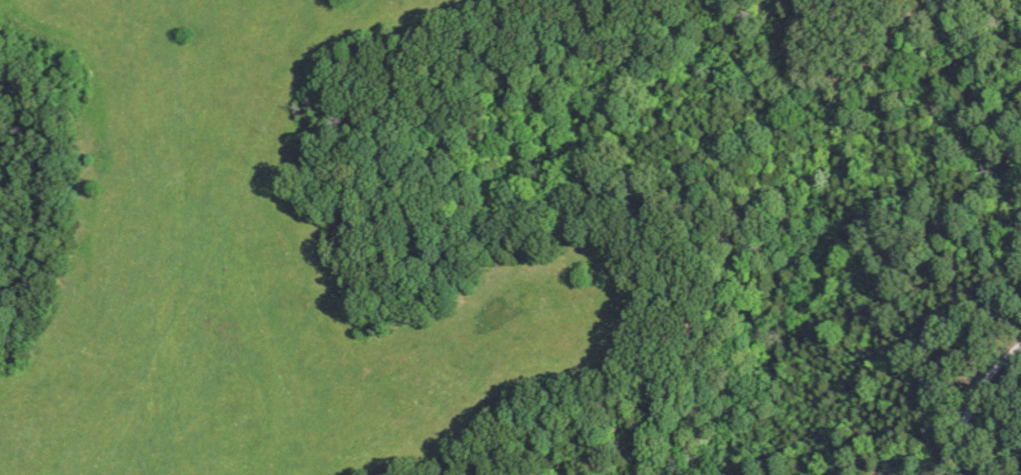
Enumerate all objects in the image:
road: (973, 406)

